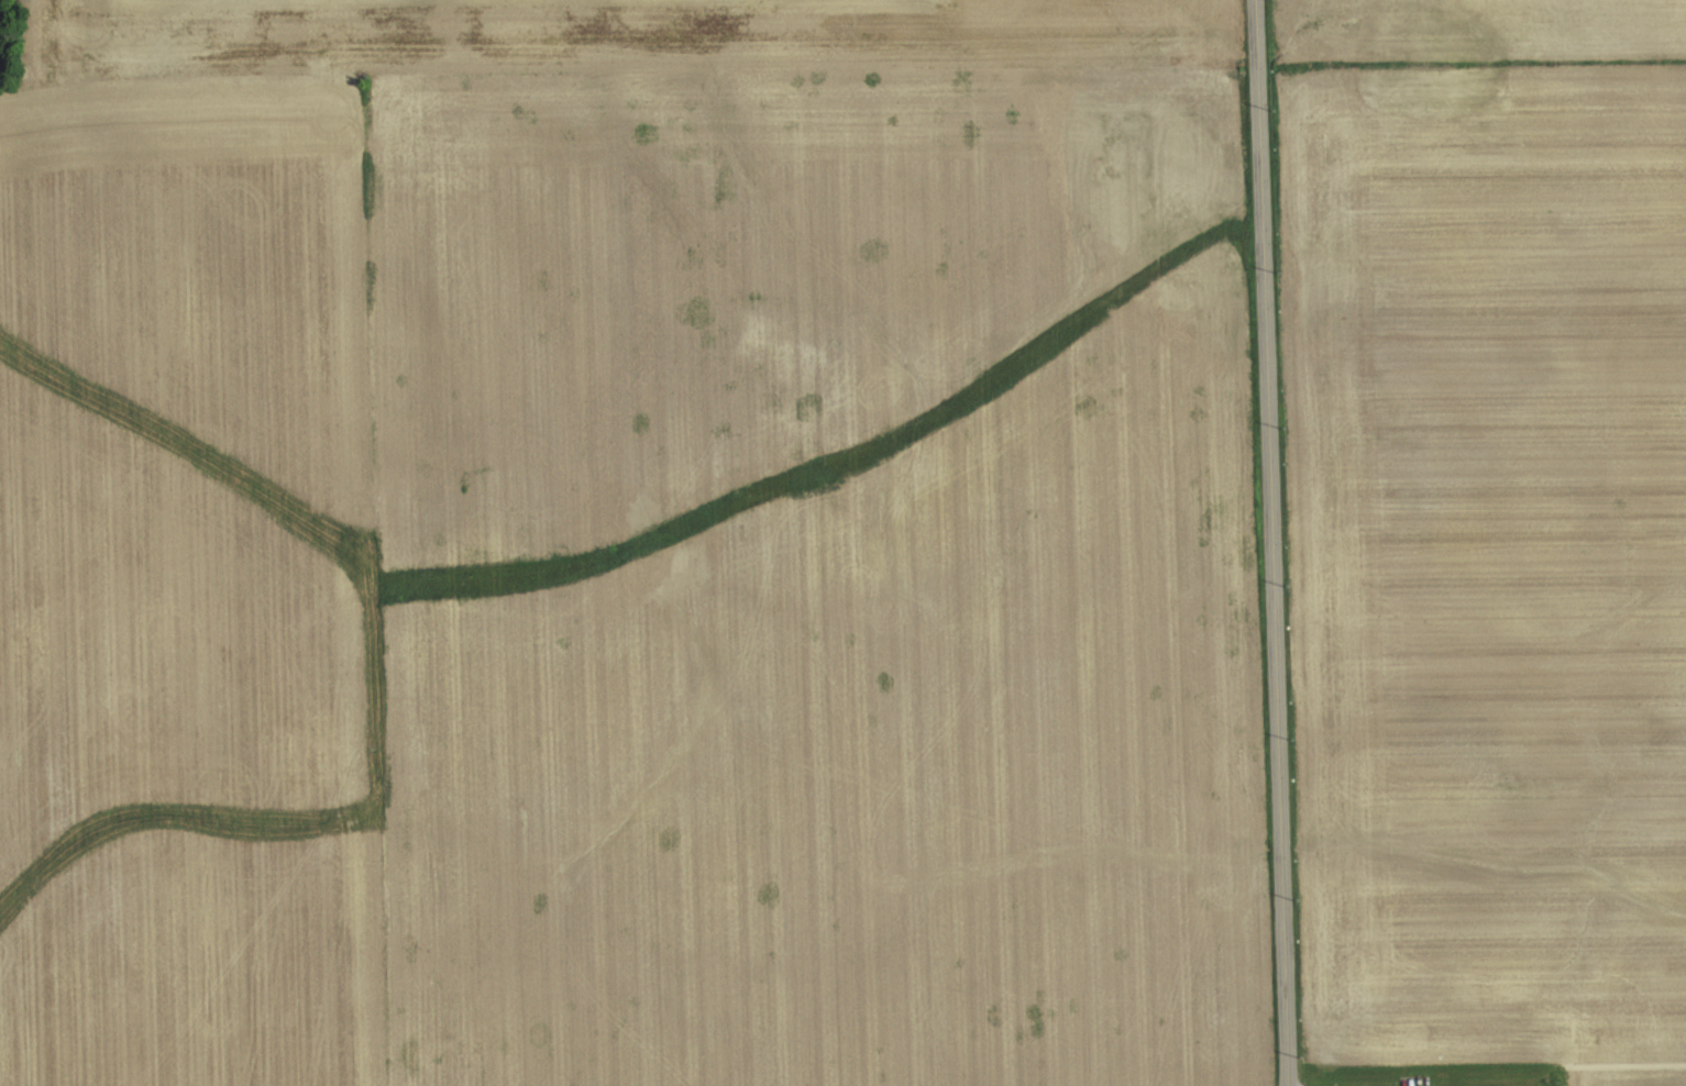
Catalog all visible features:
road: (1269, 543)

